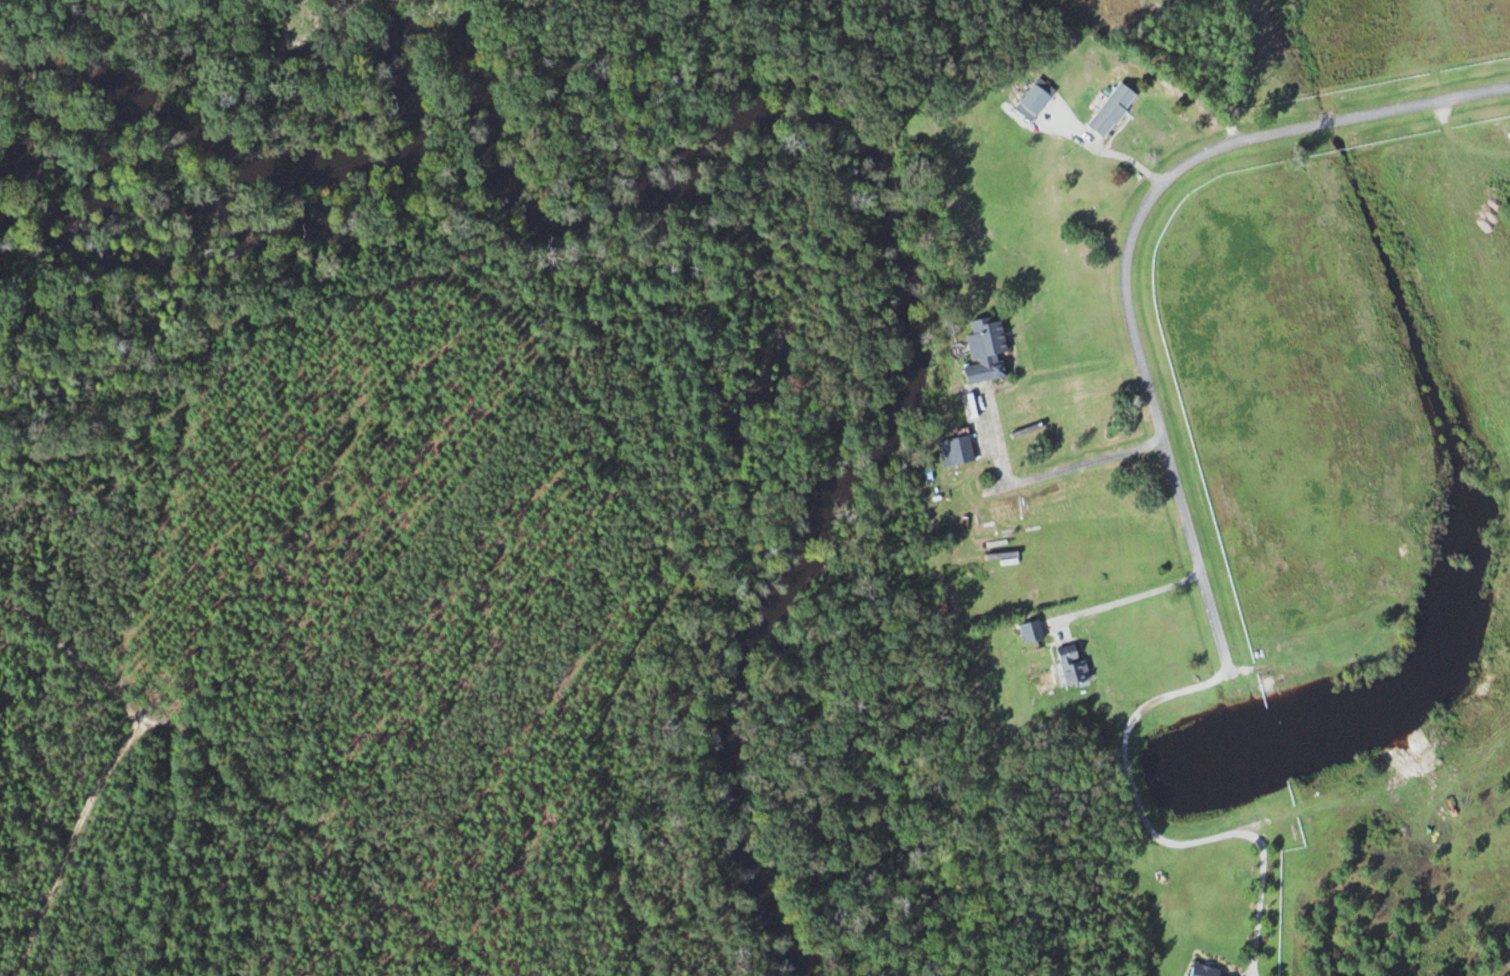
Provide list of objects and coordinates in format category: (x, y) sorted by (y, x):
building: (1036, 99)
building: (1113, 109)
river: (780, 169)
building: (987, 351)
road: (1153, 410)
building: (957, 451)
building: (1033, 632)
building: (1073, 665)
building: (1205, 971)

